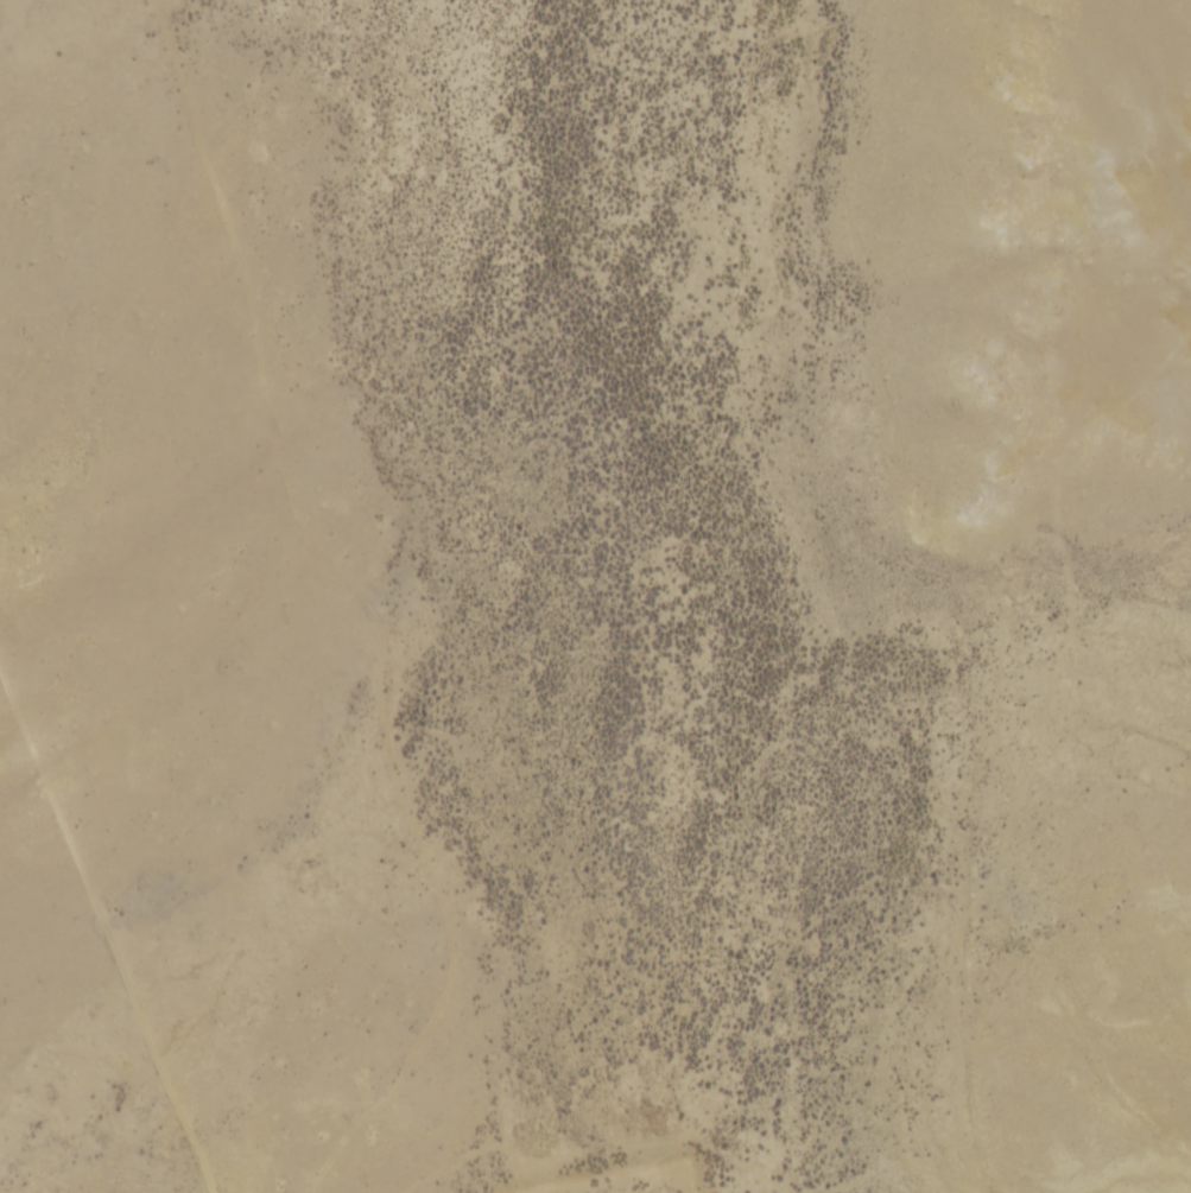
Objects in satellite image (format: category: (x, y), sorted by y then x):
road: (99, 937)

